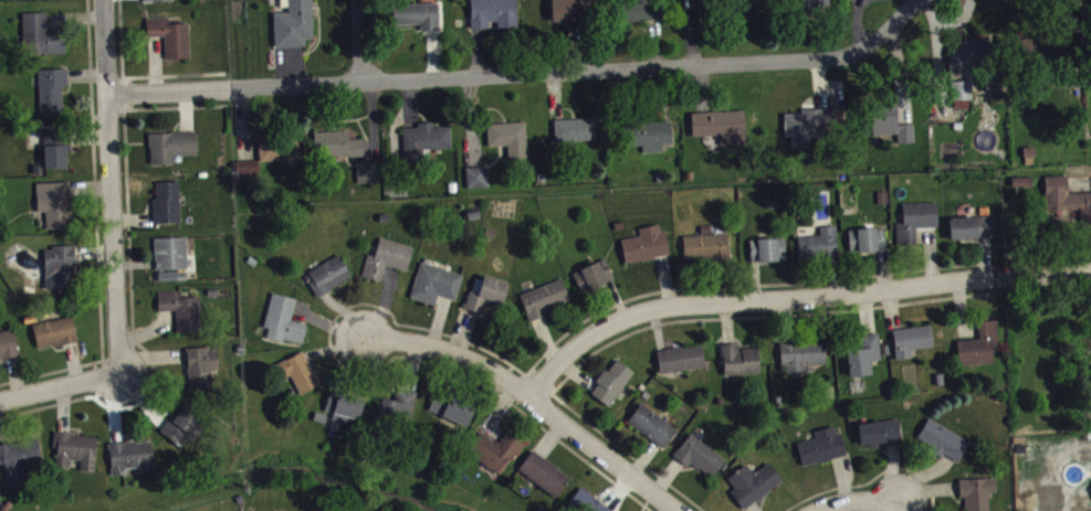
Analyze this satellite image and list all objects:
building: (241, 0)
building: (161, 2)
building: (817, 4)
building: (734, 6)
road: (119, 9)
building: (634, 9)
building: (751, 9)
building: (575, 10)
building: (416, 12)
building: (492, 12)
building: (292, 23)
building: (39, 32)
building: (169, 33)
building: (1043, 35)
road: (366, 42)
building: (966, 50)
road: (90, 57)
road: (145, 74)
road: (521, 74)
building: (50, 88)
road: (123, 91)
building: (964, 98)
building: (889, 120)
building: (718, 124)
building: (805, 124)
building: (574, 128)
building: (648, 132)
building: (507, 135)
building: (423, 138)
building: (335, 141)
building: (170, 143)
building: (53, 145)
building: (277, 145)
building: (245, 168)
building: (365, 170)
building: (475, 174)
road: (111, 187)
building: (1066, 196)
building: (165, 200)
building: (55, 202)
road: (96, 220)
building: (914, 220)
building: (969, 225)
building: (866, 237)
building: (644, 242)
building: (817, 242)
building: (706, 245)
building: (767, 247)
building: (170, 251)
building: (385, 256)
building: (60, 265)
building: (327, 273)
building: (592, 273)
building: (434, 281)
road: (130, 283)
road: (730, 285)
building: (484, 290)
building: (542, 296)
road: (796, 300)
building: (180, 308)
road: (758, 315)
building: (282, 318)
building: (53, 330)
building: (914, 337)
building: (8, 342)
building: (978, 342)
building: (799, 352)
building: (862, 352)
road: (397, 355)
building: (679, 355)
building: (738, 358)
building: (199, 365)
road: (51, 370)
building: (297, 370)
road: (96, 379)
building: (610, 380)
road: (60, 386)
road: (537, 398)
building: (343, 402)
building: (397, 403)
building: (450, 406)
building: (180, 422)
building: (650, 424)
building: (879, 430)
building: (942, 438)
building: (821, 445)
building: (73, 447)
building: (493, 448)
building: (129, 454)
building: (697, 454)
building: (18, 457)
road: (644, 465)
building: (543, 471)
road: (871, 478)
building: (752, 481)
building: (976, 491)
road: (850, 497)
building: (587, 501)

